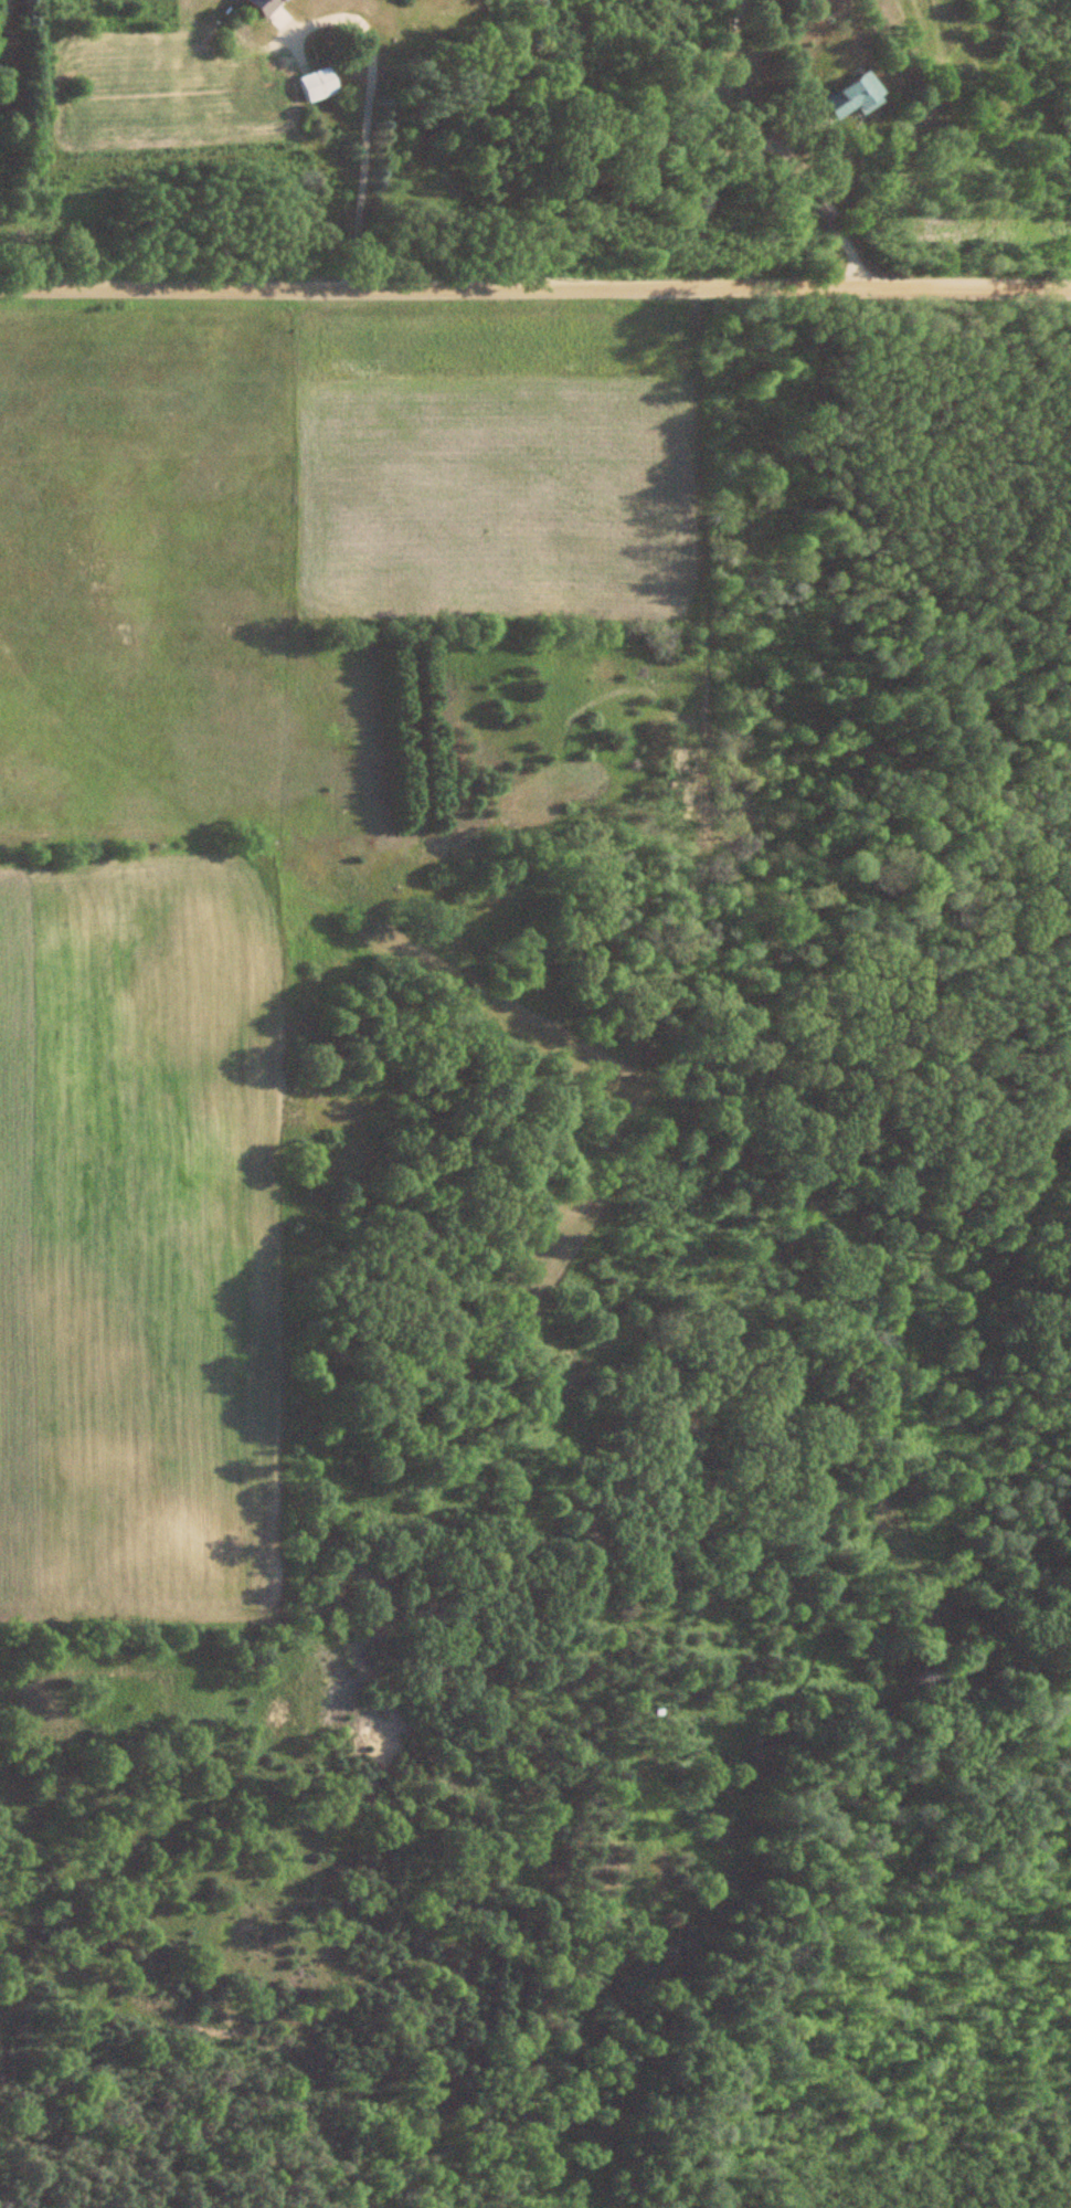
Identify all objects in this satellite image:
building: (6, 6)
building: (380, 33)
building: (312, 85)
building: (842, 97)
road: (377, 137)
road: (534, 286)

